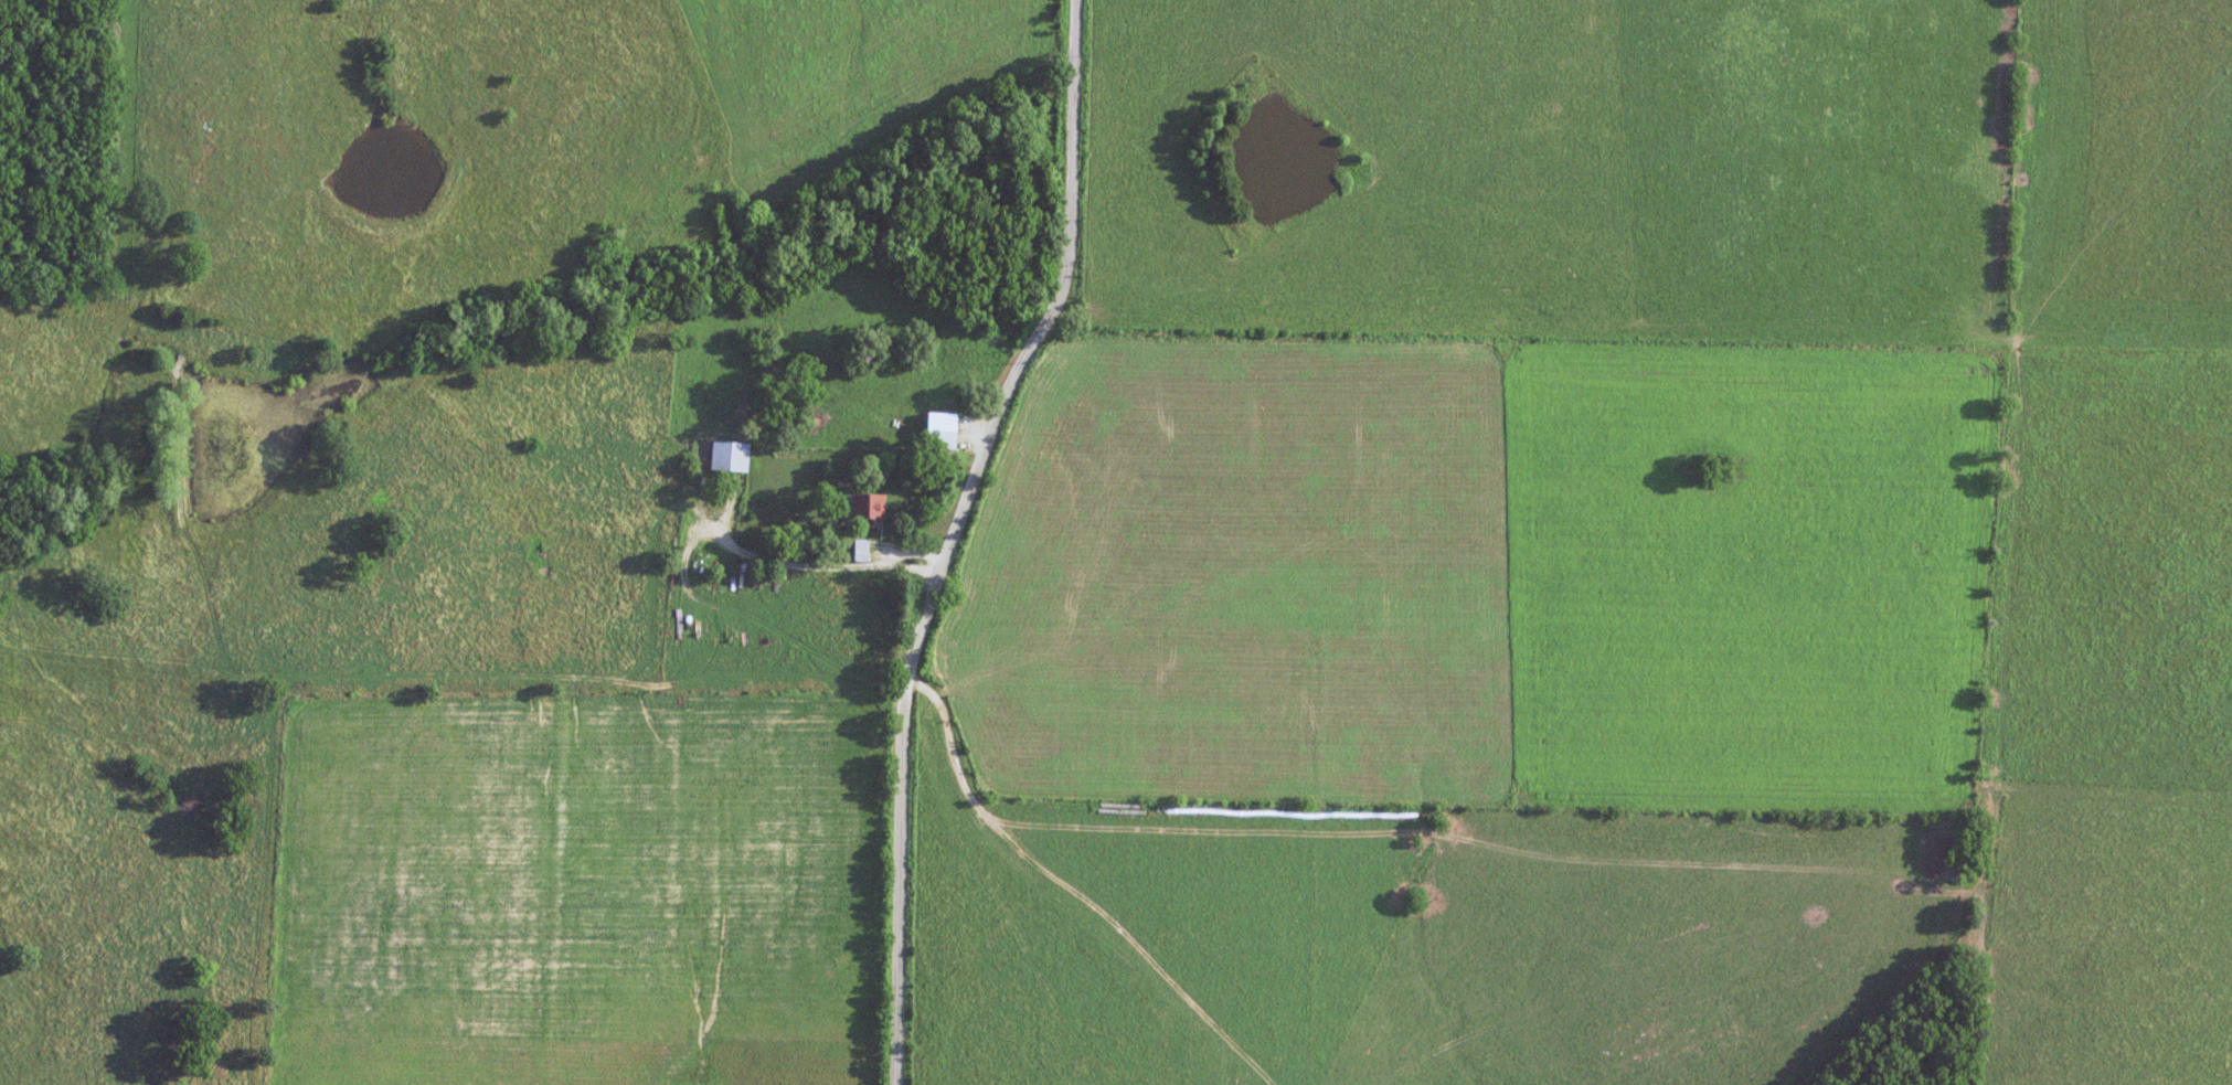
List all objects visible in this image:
building: (943, 438)
building: (731, 457)
building: (869, 508)
road: (954, 533)
road: (1070, 892)

